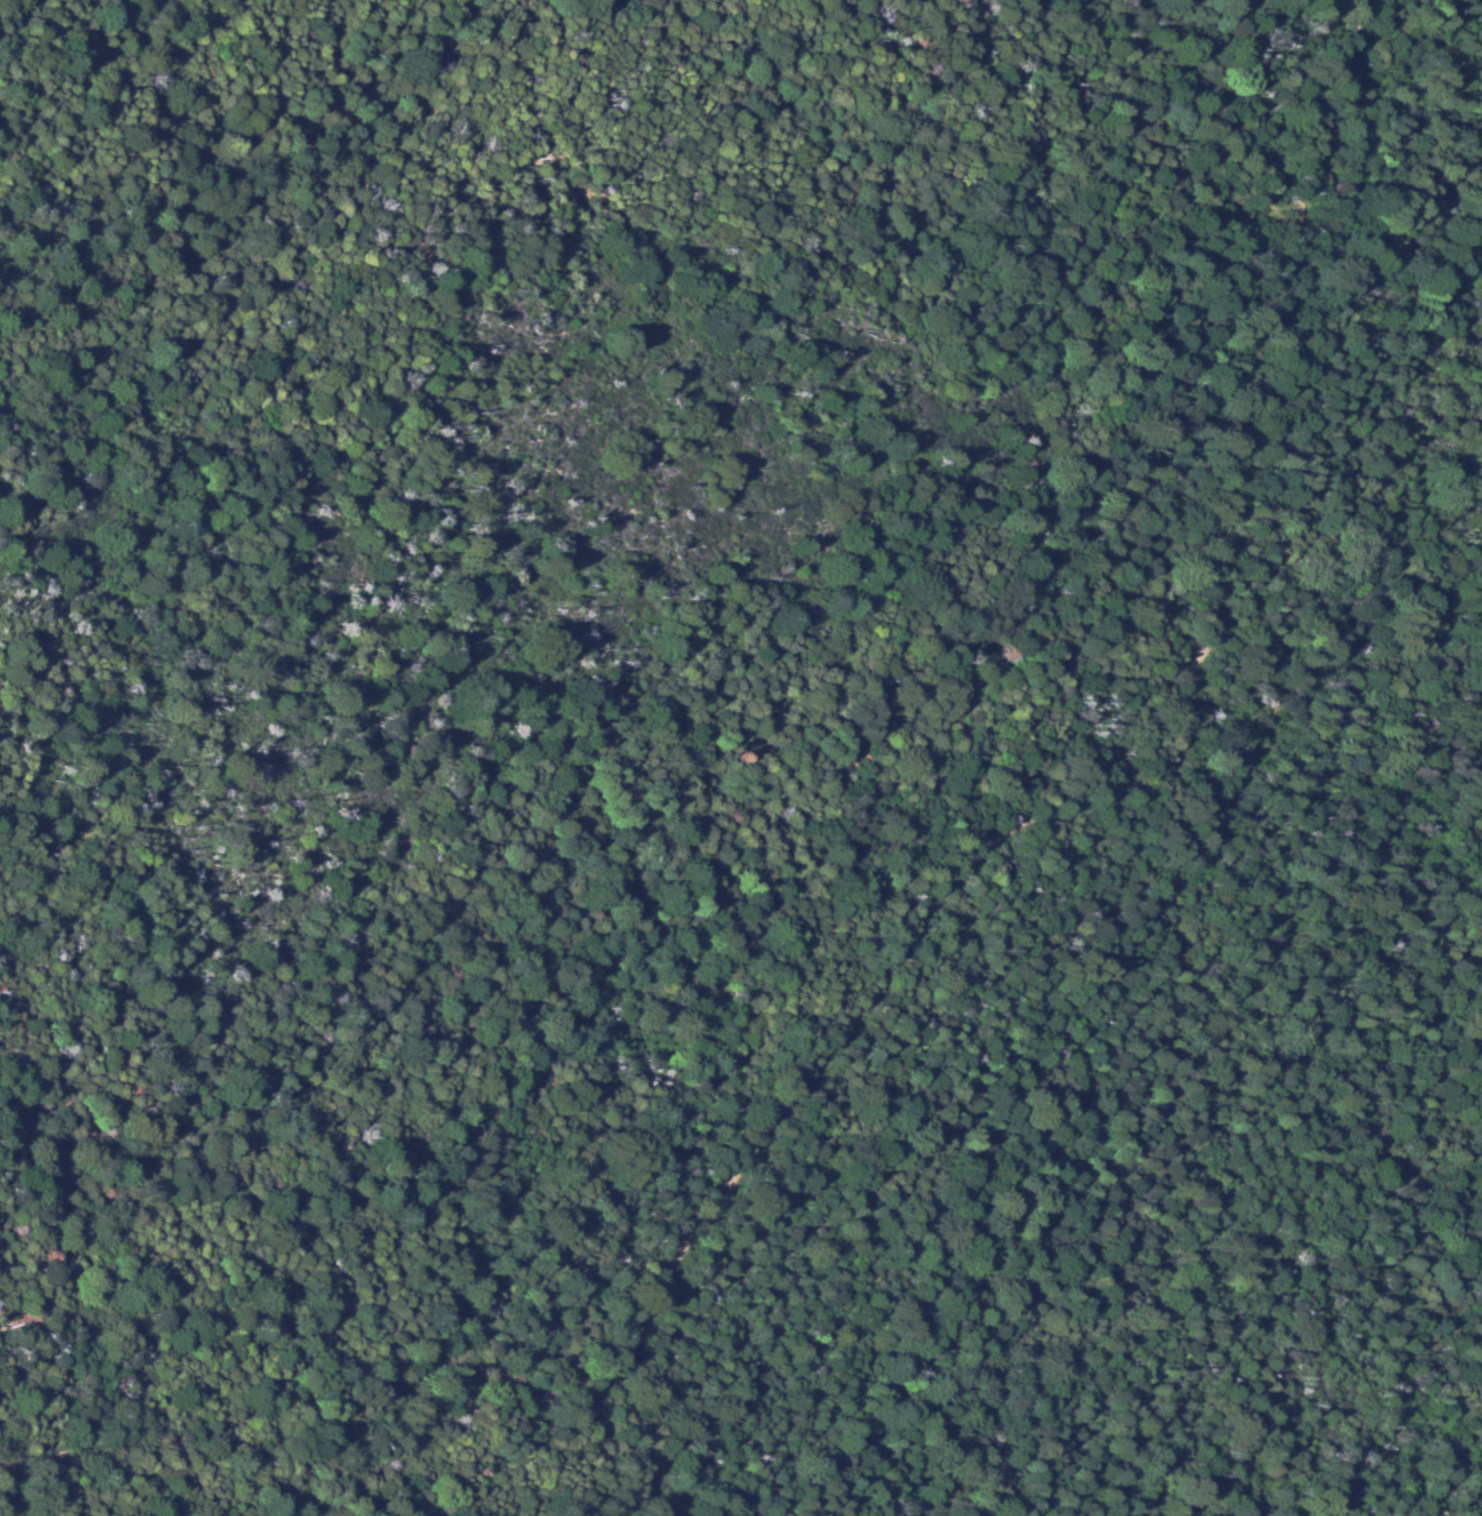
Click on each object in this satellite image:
road: (896, 960)

